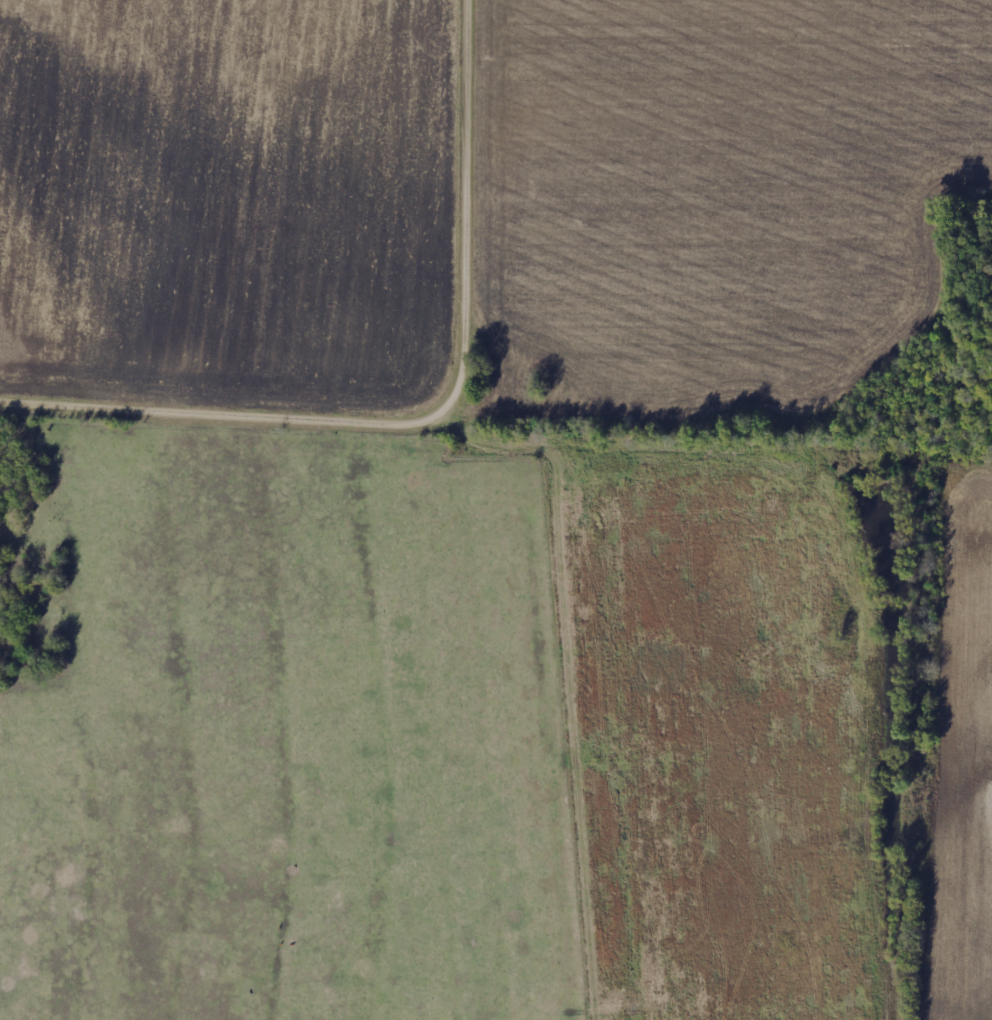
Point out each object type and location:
road: (433, 420)

